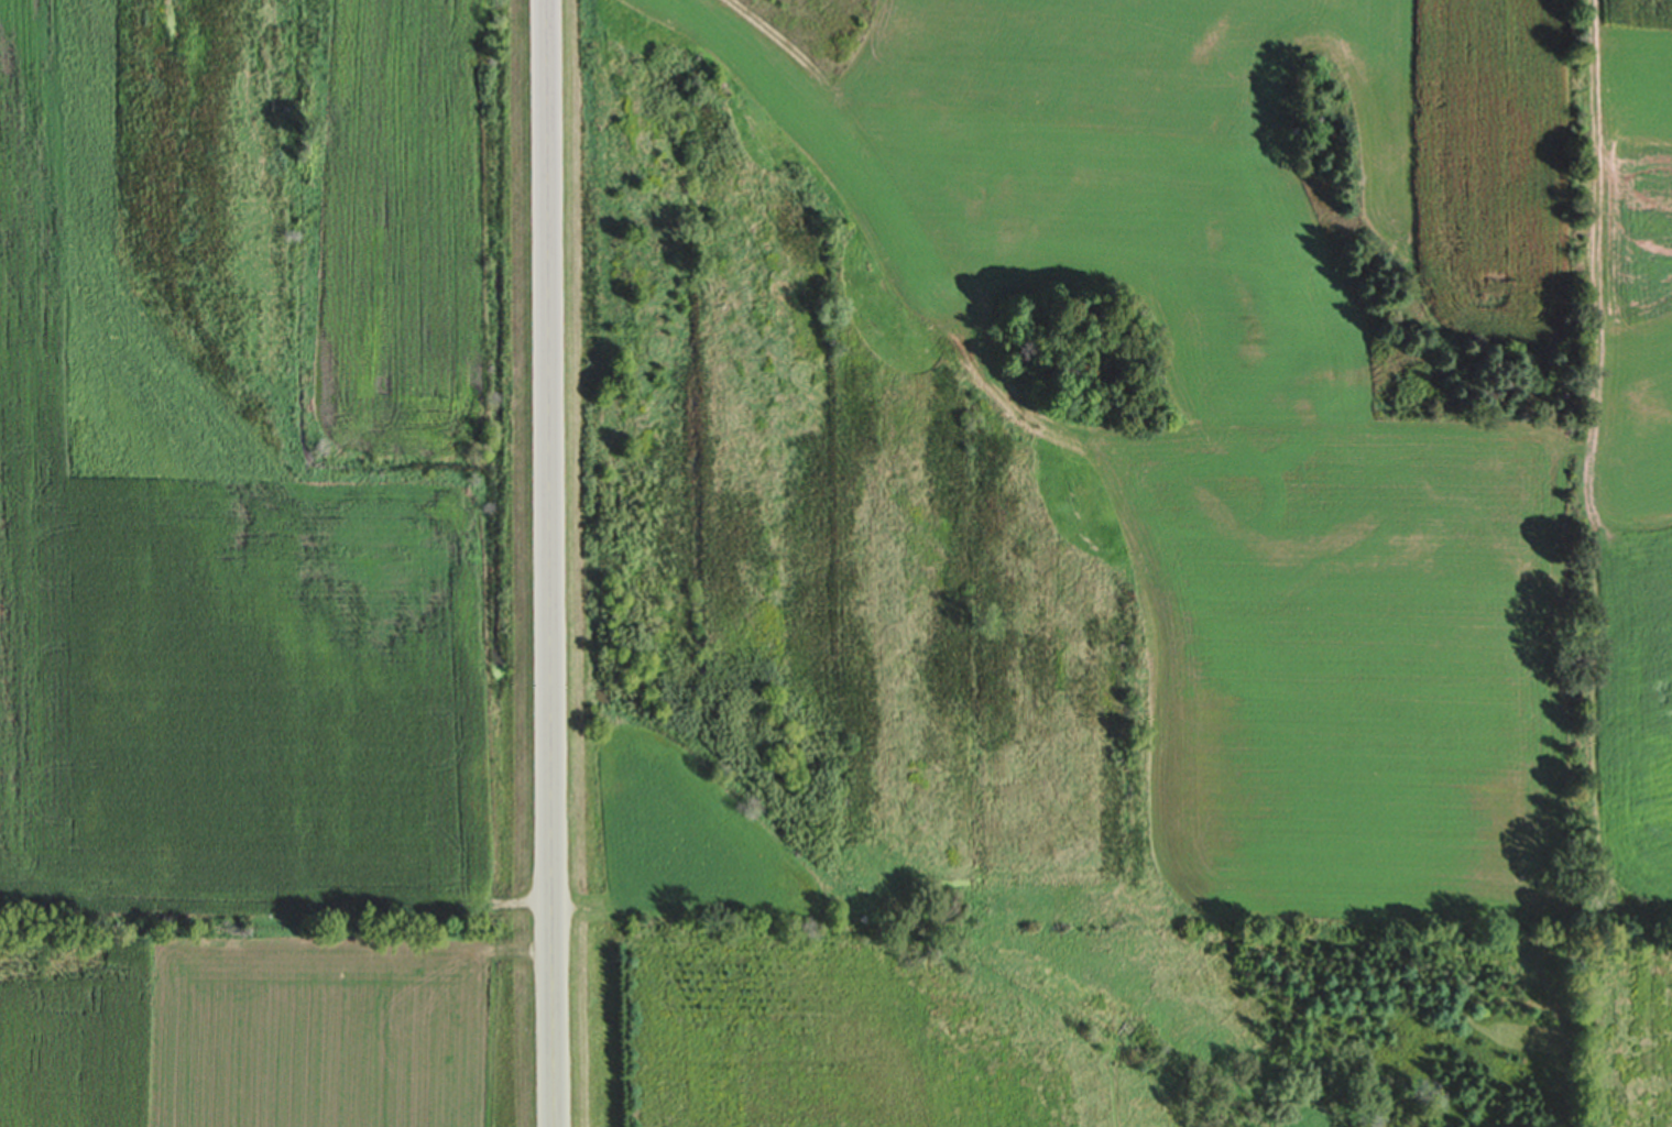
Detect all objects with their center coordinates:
road: (550, 563)

